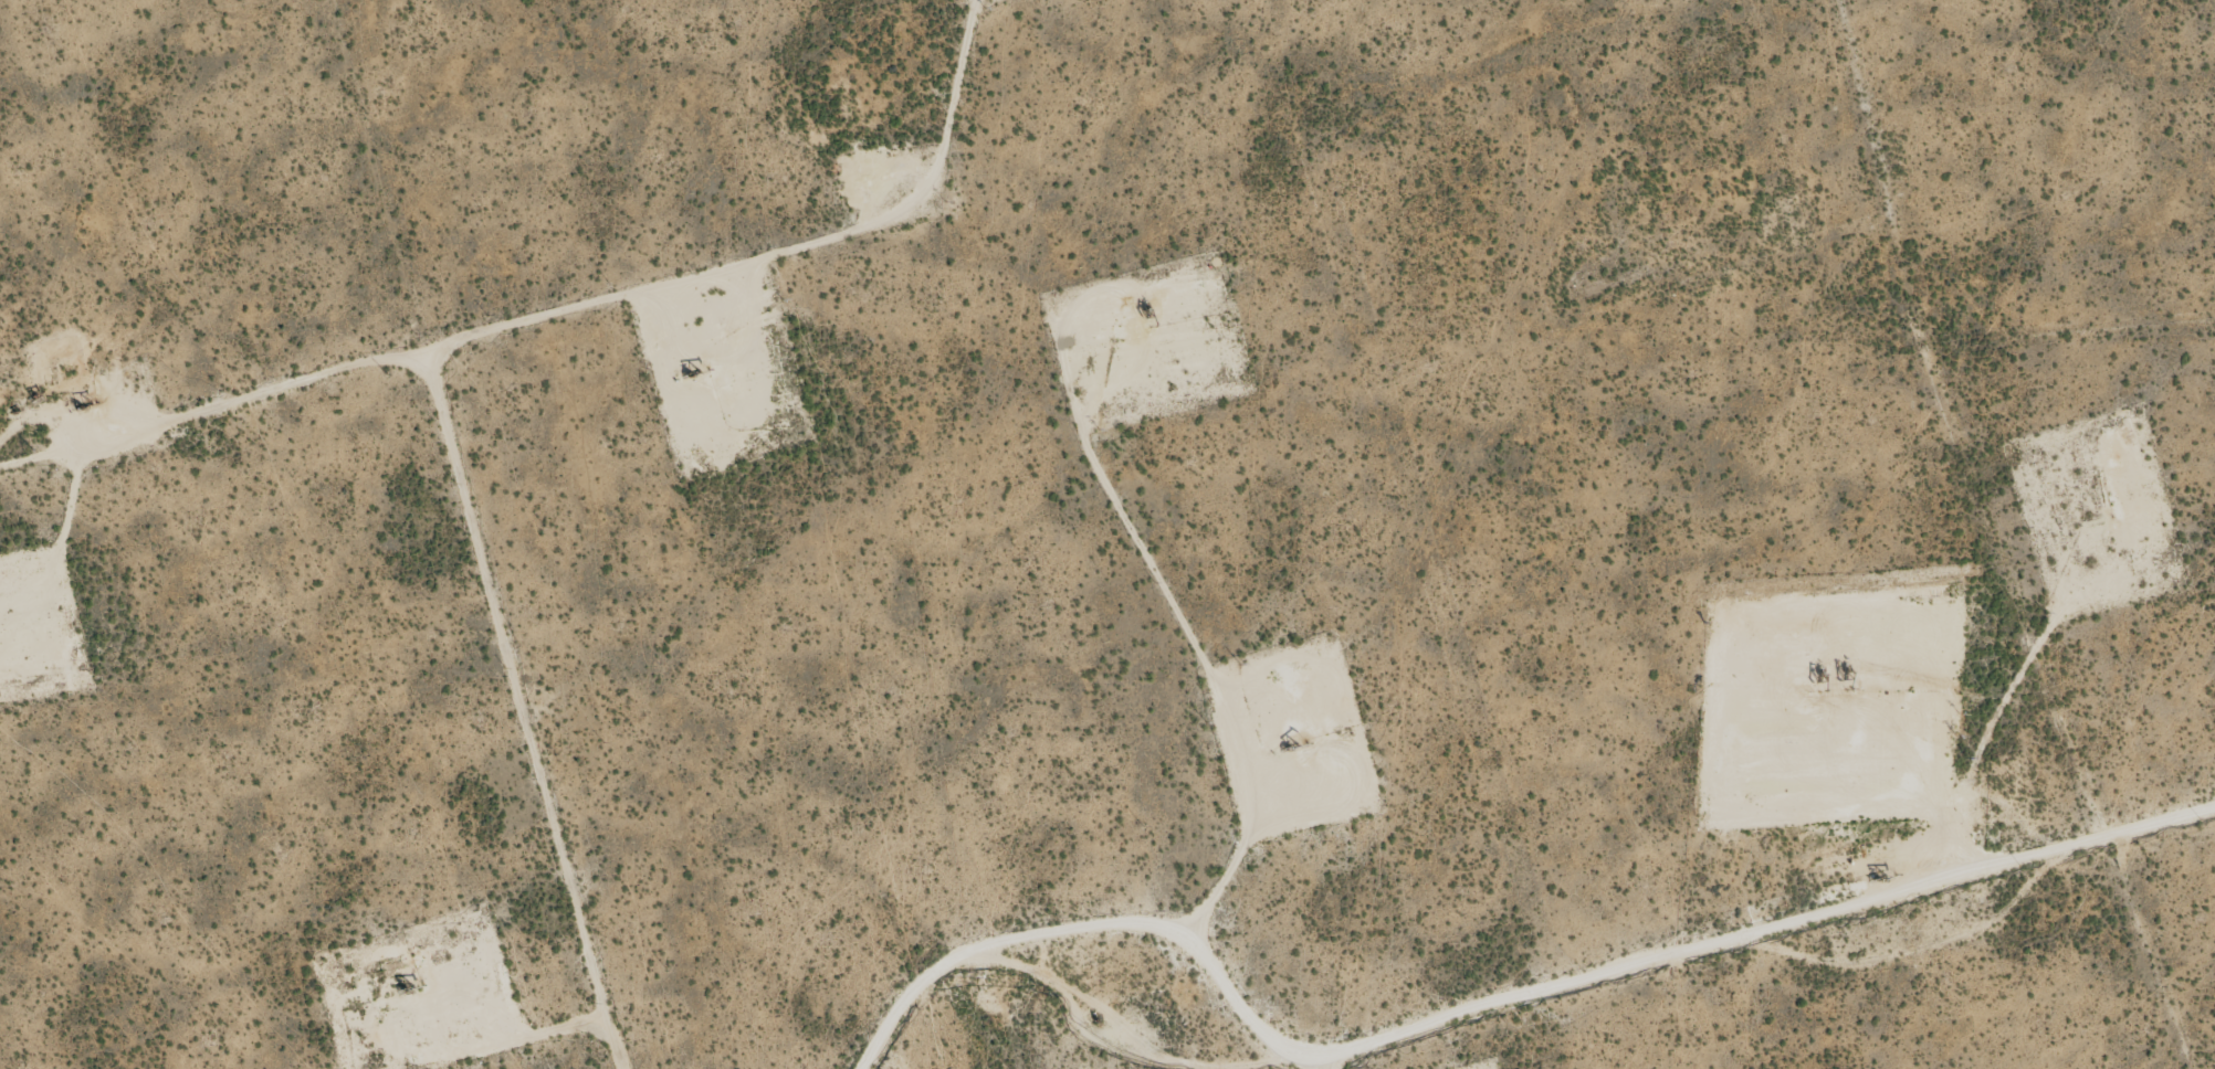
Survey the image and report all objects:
petroleum well: (1143, 306)
petroleum well: (689, 374)
road: (460, 403)
petroleum well: (2095, 518)
petroleum well: (1818, 673)
road: (558, 732)
petroleum well: (1285, 748)
petroleum well: (1877, 876)
petroleum well: (406, 987)
road: (1483, 995)

